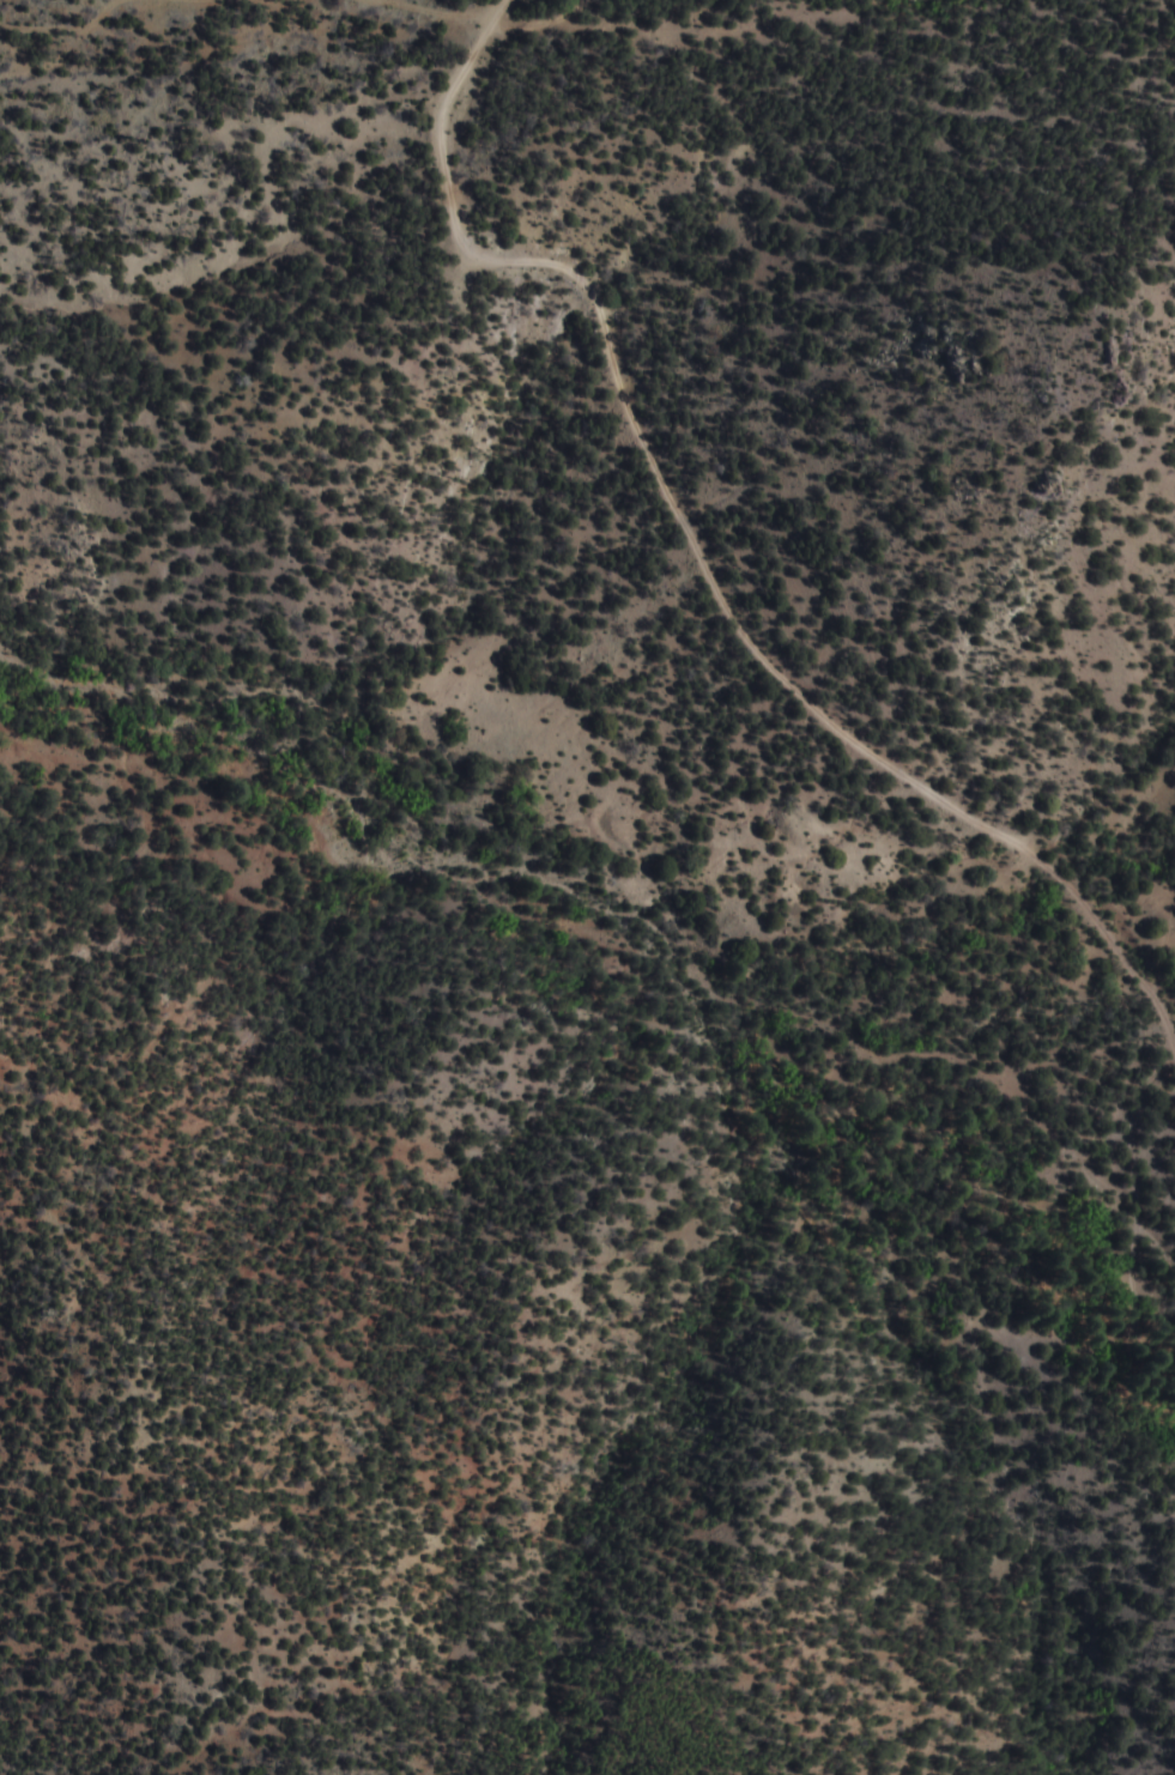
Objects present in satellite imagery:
road: (701, 583)
road: (604, 965)

